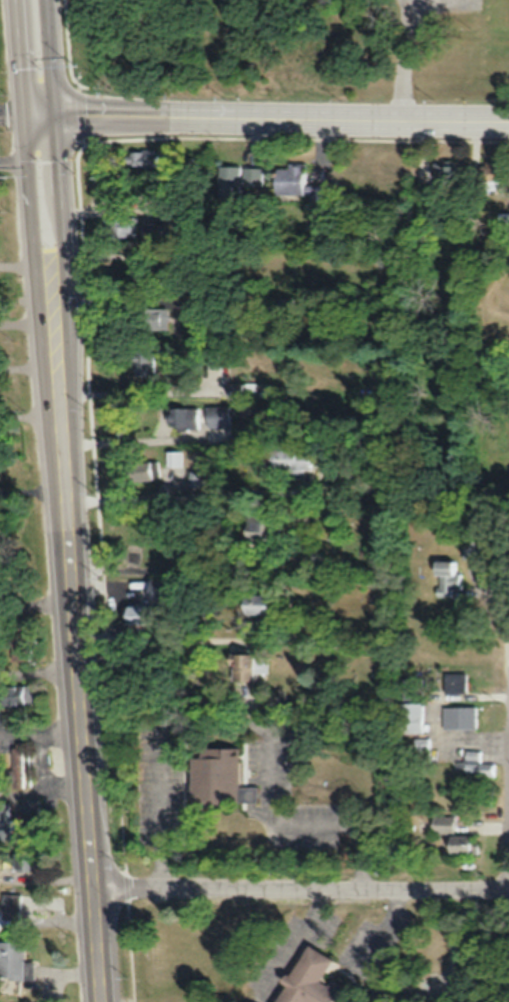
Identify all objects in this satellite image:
road: (18, 55)
road: (53, 56)
road: (404, 61)
road: (11, 111)
traffic signals: (22, 111)
traffic signals: (58, 113)
road: (167, 116)
road: (410, 121)
building: (143, 157)
building: (444, 171)
building: (236, 178)
building: (297, 183)
road: (63, 203)
building: (503, 223)
building: (119, 225)
building: (149, 232)
road: (36, 315)
building: (142, 363)
building: (240, 389)
road: (70, 406)
building: (217, 415)
building: (182, 418)
building: (287, 460)
building: (195, 478)
road: (30, 492)
building: (259, 530)
building: (472, 549)
building: (447, 577)
road: (36, 603)
building: (260, 603)
building: (138, 614)
building: (242, 666)
road: (39, 671)
building: (454, 682)
building: (19, 694)
building: (459, 716)
building: (411, 717)
road: (41, 731)
building: (421, 749)
road: (84, 760)
building: (479, 768)
building: (216, 776)
road: (43, 793)
building: (29, 806)
road: (300, 817)
building: (5, 819)
building: (451, 834)
building: (24, 857)
road: (301, 883)
building: (15, 905)
building: (14, 961)
building: (311, 980)

